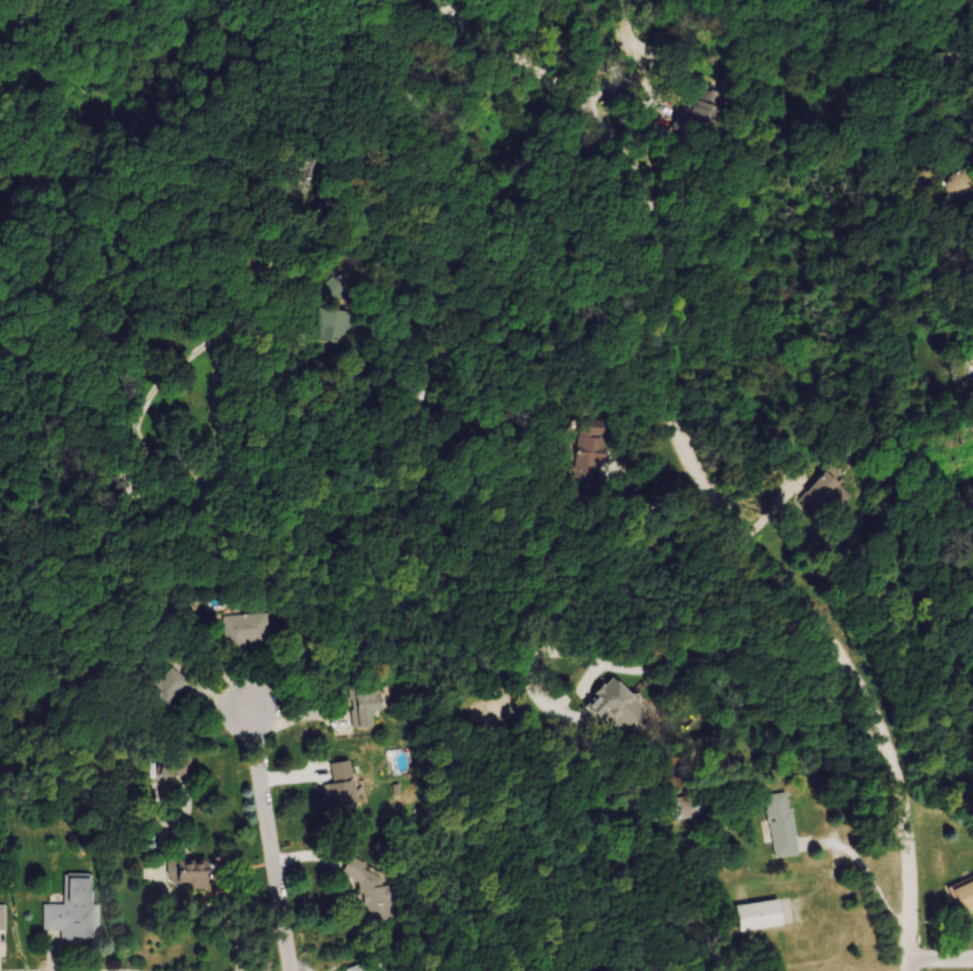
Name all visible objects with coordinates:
road: (379, 124)
building: (341, 326)
building: (597, 454)
road: (694, 460)
building: (182, 462)
building: (828, 498)
road: (663, 506)
building: (248, 631)
road: (746, 650)
building: (169, 691)
building: (619, 706)
building: (366, 707)
building: (175, 768)
building: (342, 791)
building: (690, 809)
building: (784, 826)
road: (270, 841)
building: (193, 875)
building: (376, 894)
building: (965, 897)
building: (74, 913)
building: (759, 918)
building: (2, 919)
road: (941, 959)
road: (910, 964)
building: (361, 969)

